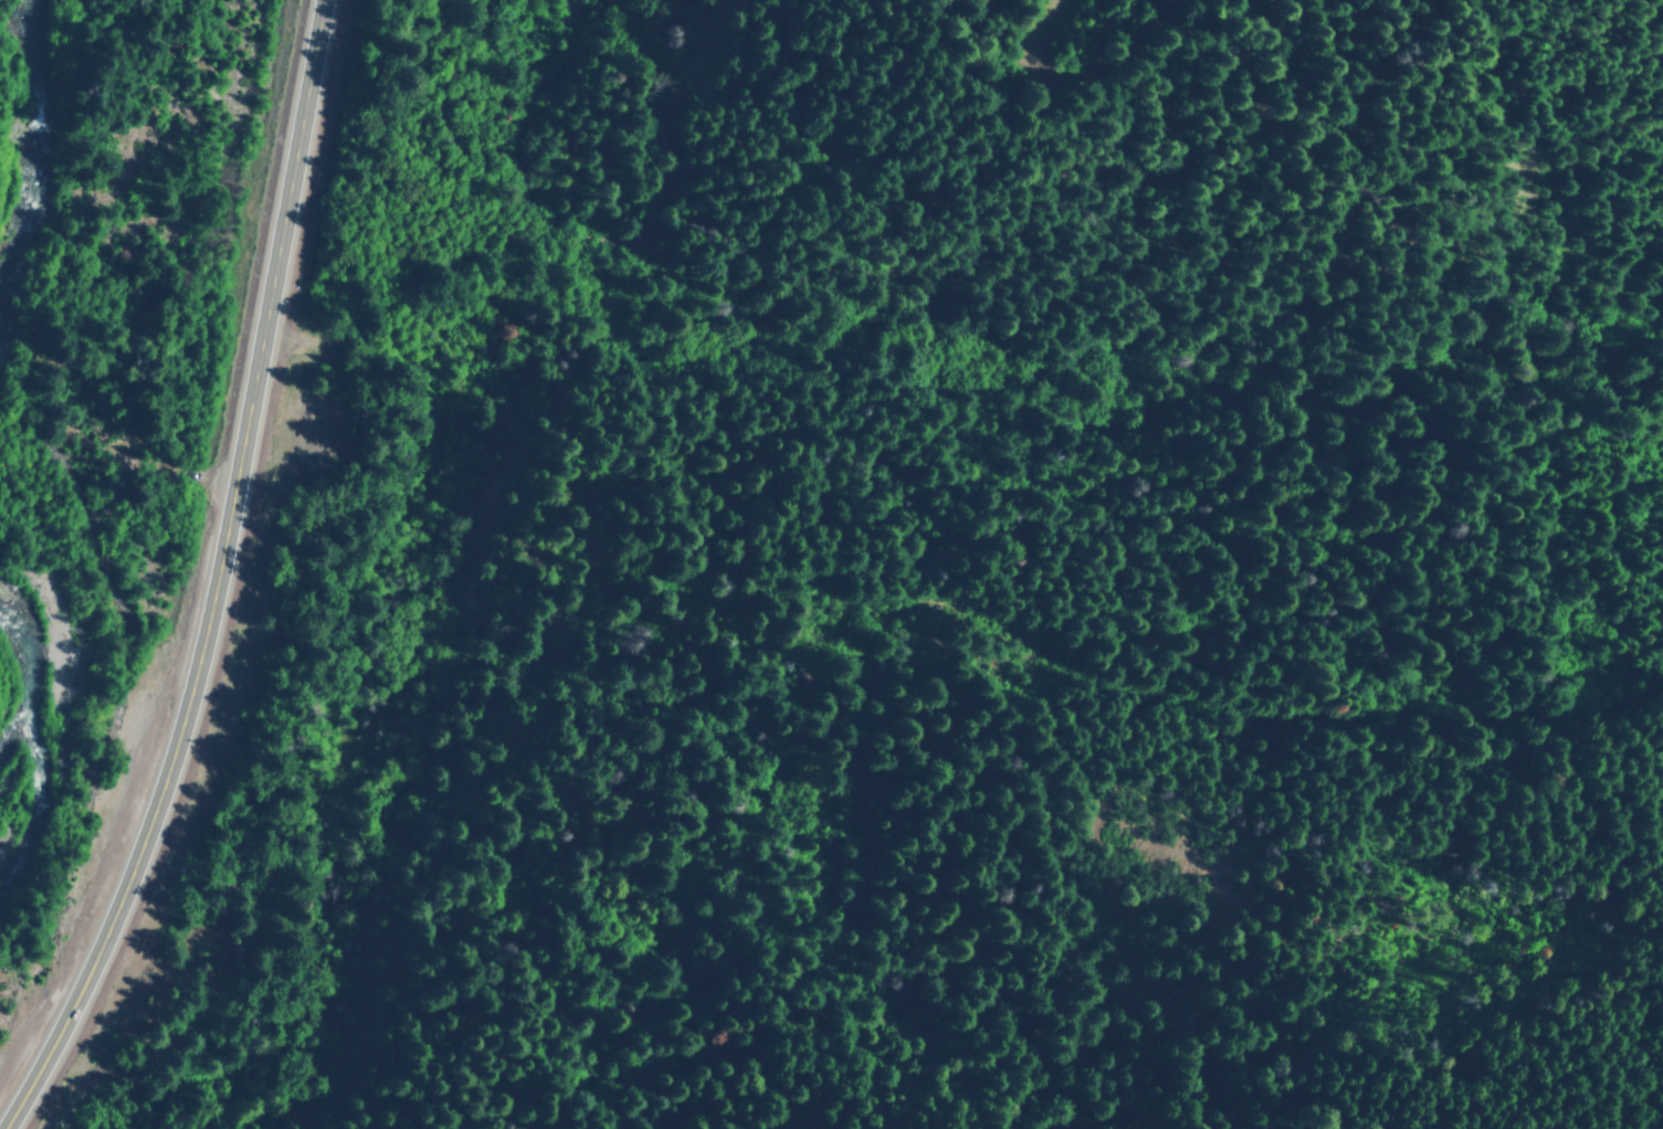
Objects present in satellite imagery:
road: (589, 48)
river: (12, 110)
road: (219, 581)
river: (8, 706)

